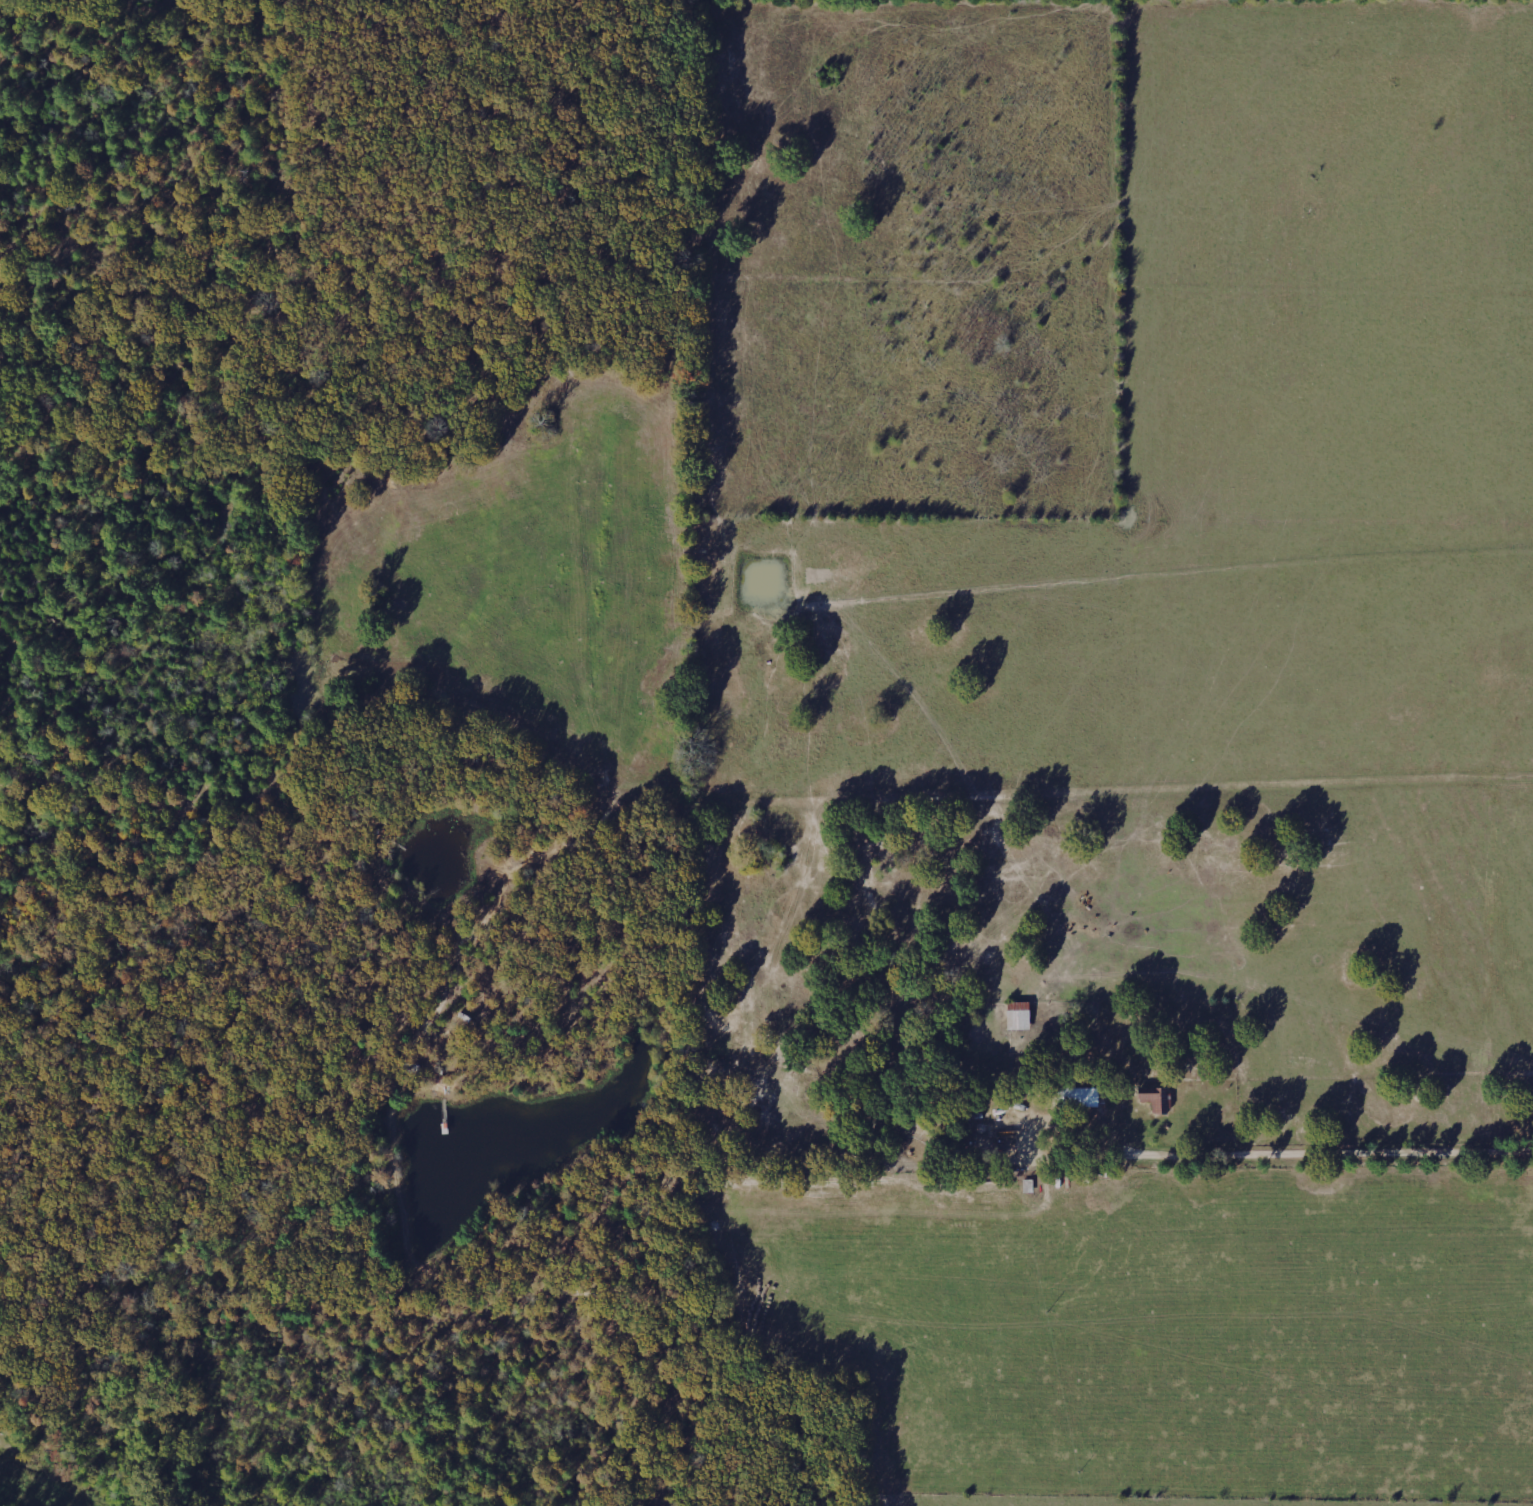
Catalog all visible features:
road: (956, 792)
building: (1022, 1016)
building: (1156, 1101)

